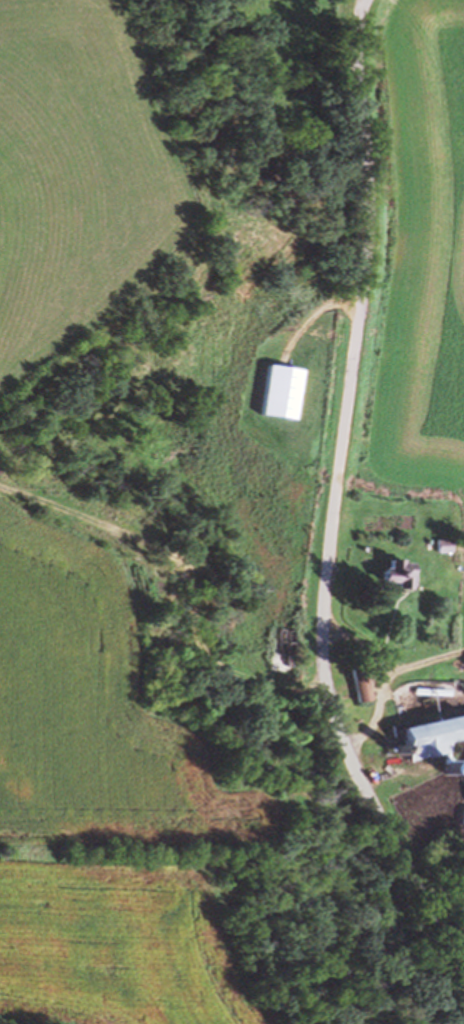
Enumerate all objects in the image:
road: (334, 504)
building: (442, 544)
building: (397, 573)
building: (358, 681)
building: (432, 690)
building: (430, 736)
building: (462, 817)

